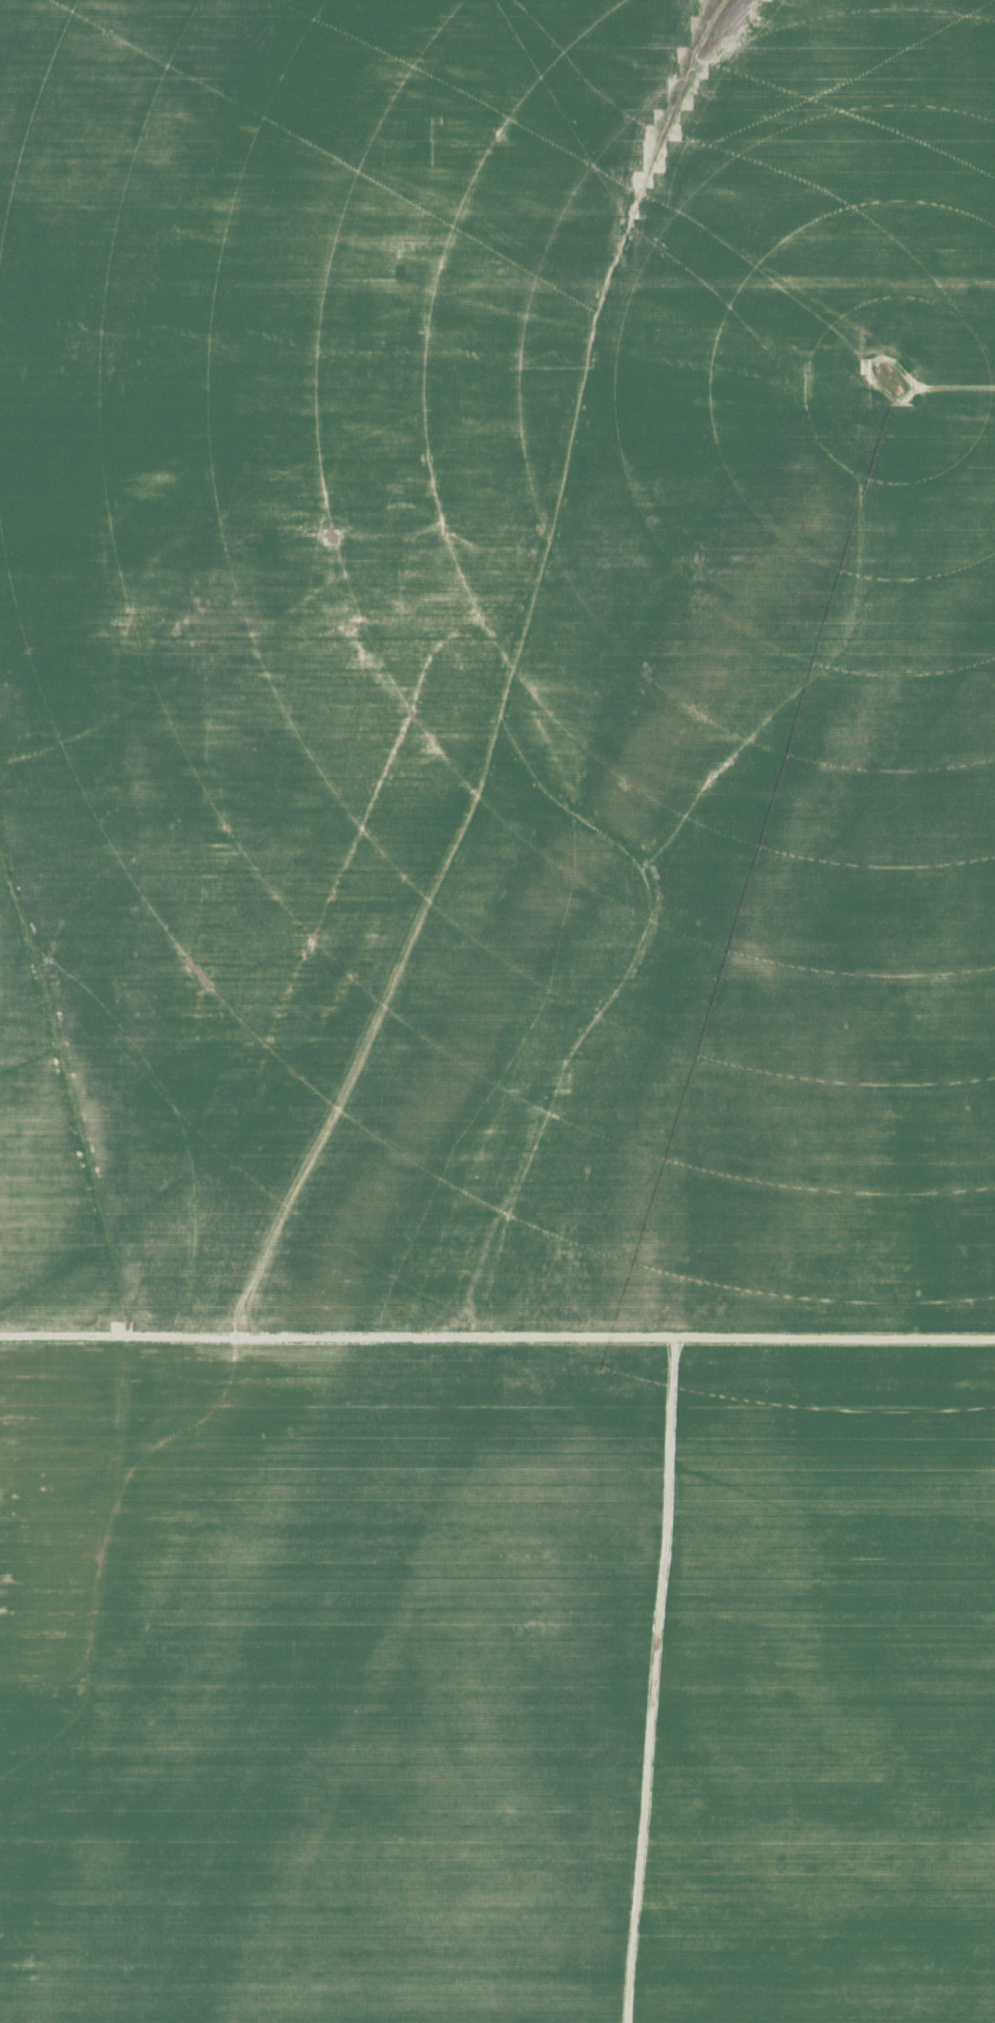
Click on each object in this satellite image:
road: (497, 1328)
road: (637, 1675)

